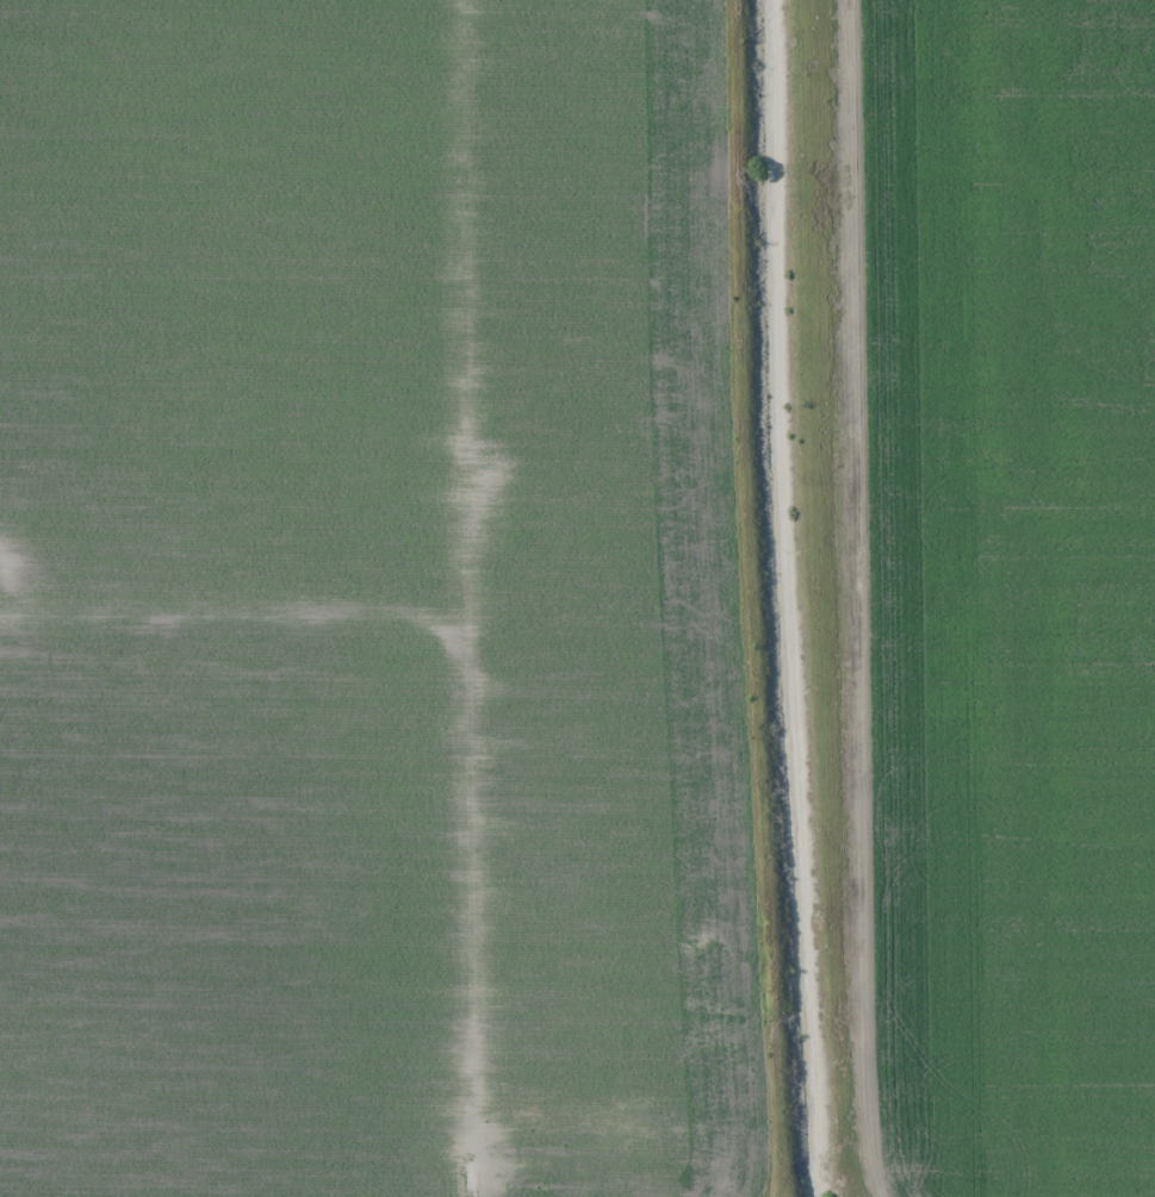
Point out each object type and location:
road: (927, 598)
building: (641, 1166)

